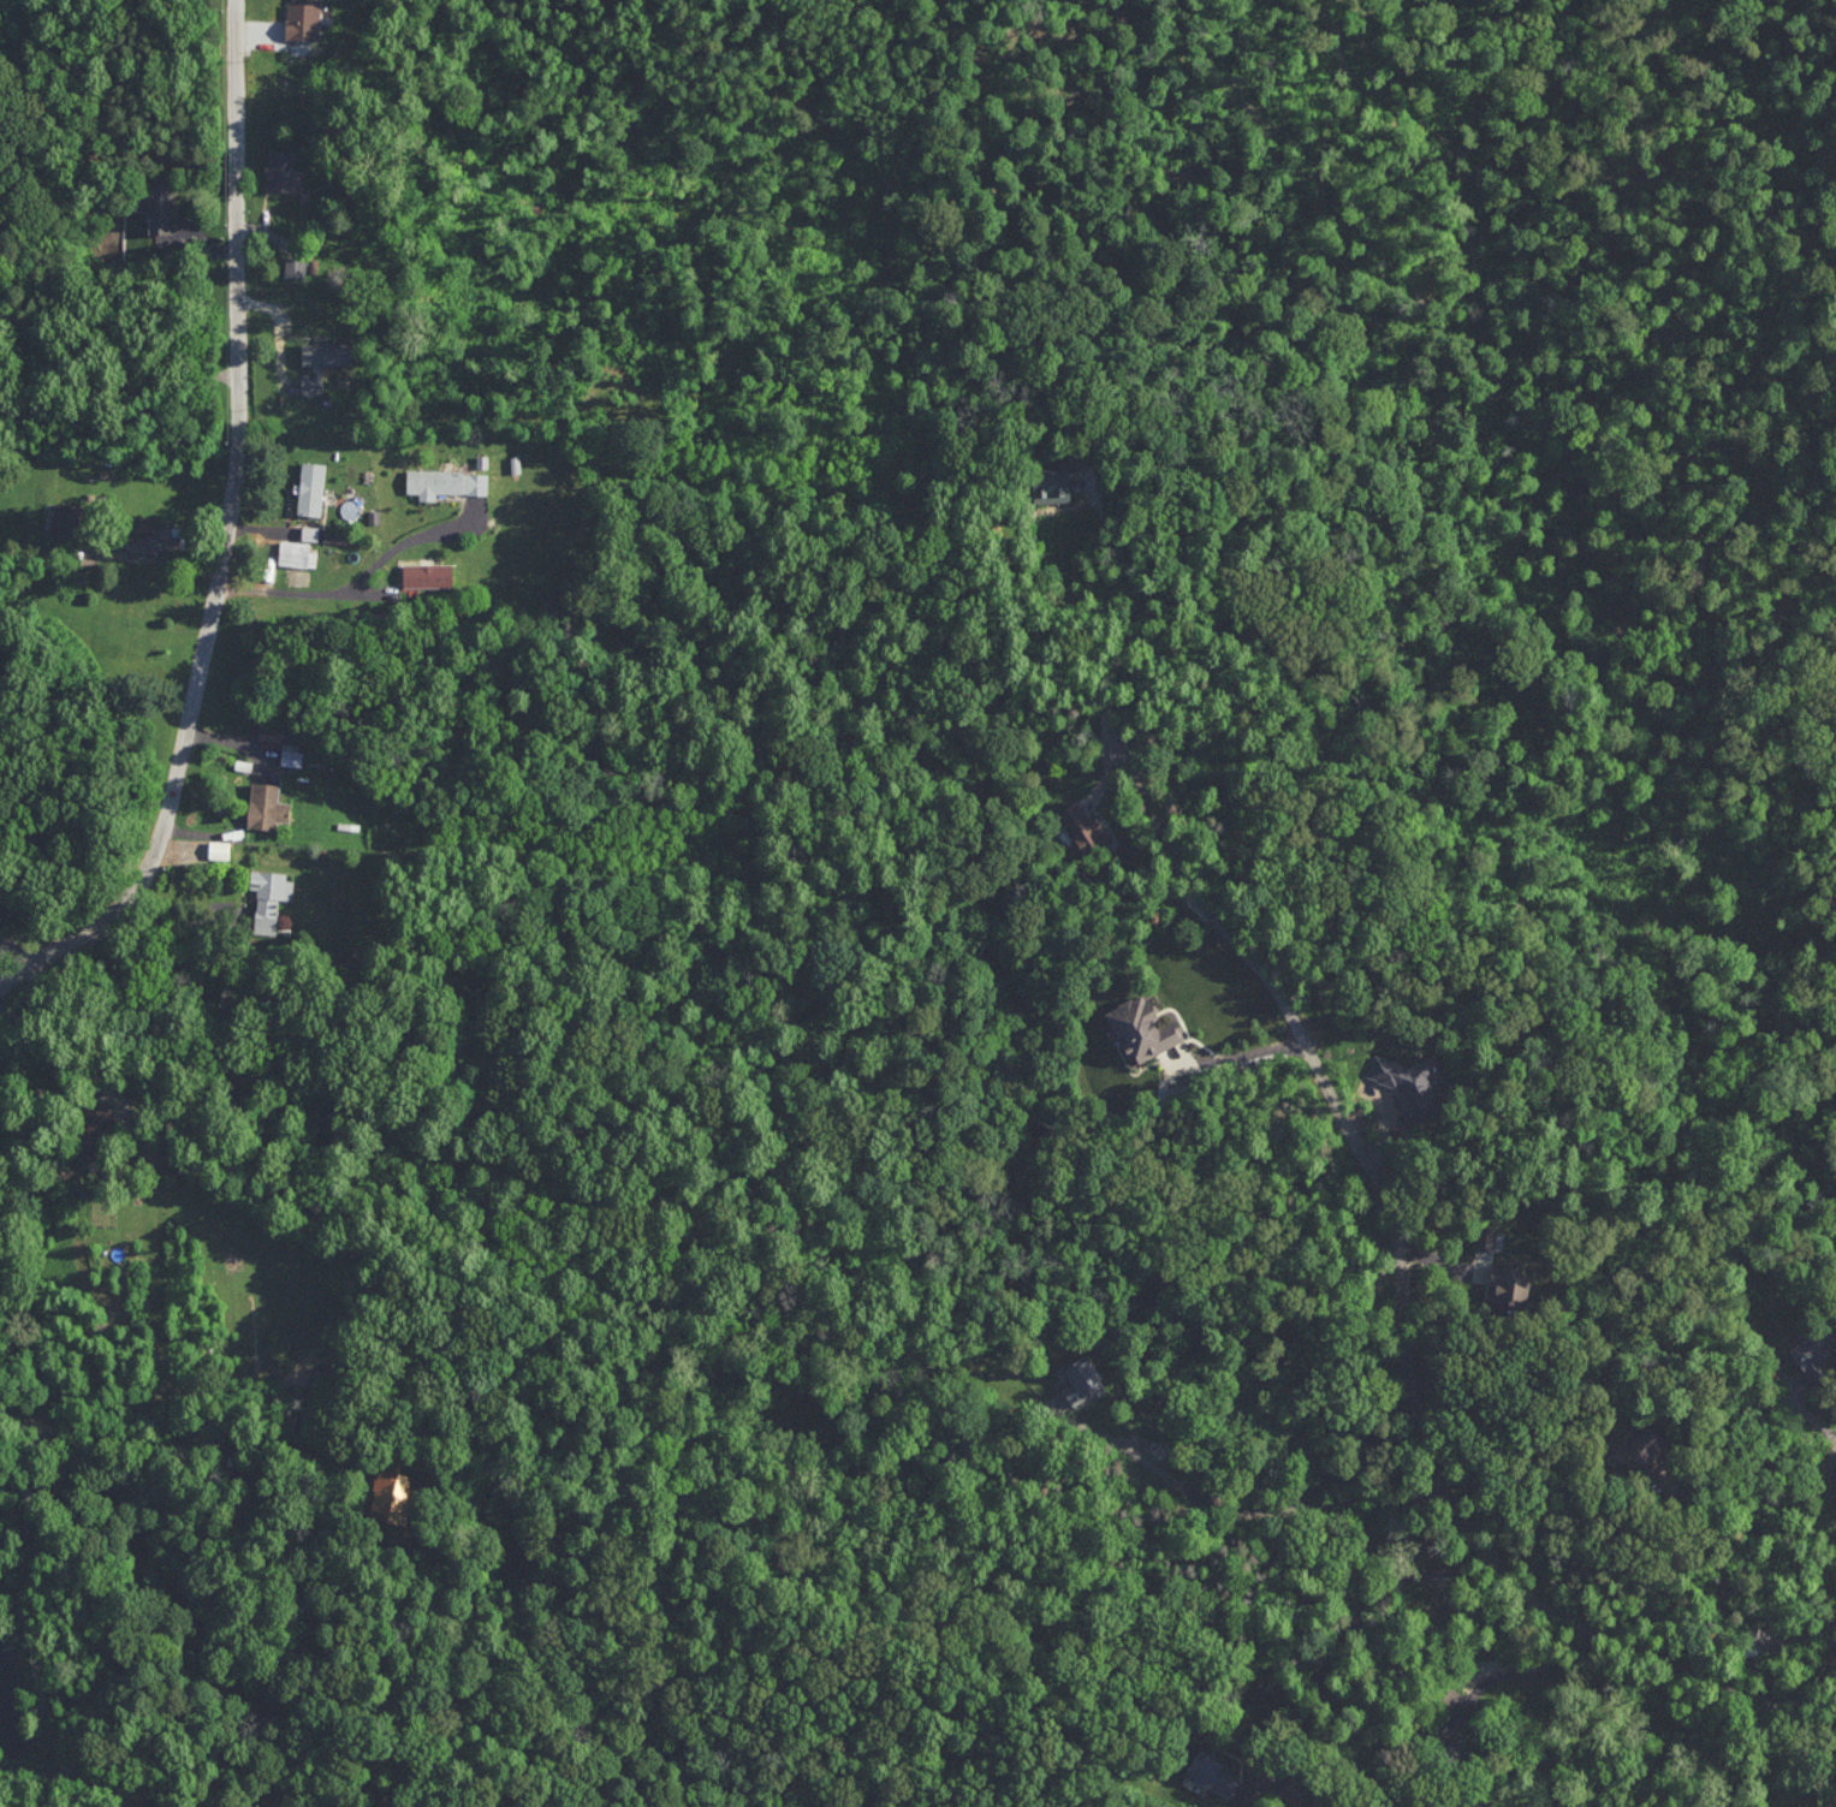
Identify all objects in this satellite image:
building: (303, 18)
building: (280, 170)
building: (160, 203)
building: (295, 266)
building: (322, 361)
road: (103, 380)
building: (446, 482)
building: (1053, 483)
building: (311, 487)
building: (66, 527)
road: (267, 531)
building: (309, 533)
building: (155, 540)
road: (222, 549)
building: (297, 553)
building: (428, 575)
road: (355, 587)
building: (269, 733)
road: (234, 747)
building: (291, 753)
building: (267, 806)
building: (1083, 827)
building: (219, 849)
building: (269, 897)
building: (1, 910)
building: (1145, 1028)
building: (1409, 1087)
road: (1378, 1194)
building: (1485, 1240)
building: (1510, 1283)
building: (1814, 1350)
building: (1081, 1379)
building: (1646, 1442)
road: (40, 1470)
building: (393, 1492)
road: (1237, 1492)
road: (1830, 1510)
road: (16, 1592)
road: (1730, 1601)
road: (1336, 1642)
road: (1544, 1671)
building: (1444, 1735)
building: (1211, 1771)

